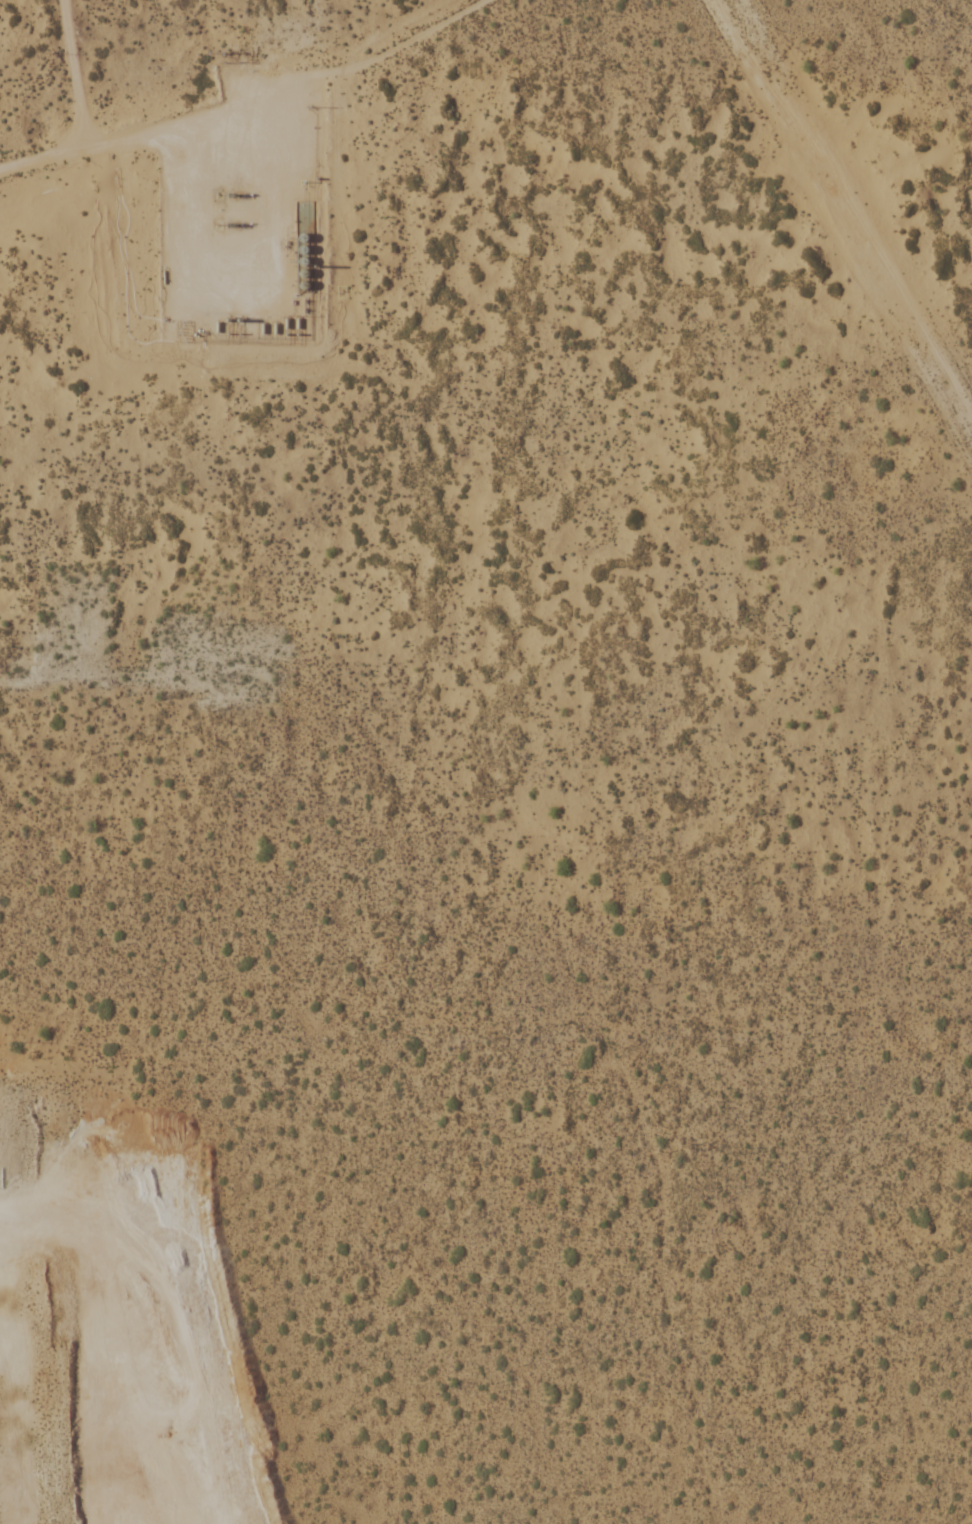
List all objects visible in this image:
road: (75, 76)
road: (252, 110)
road: (97, 680)

